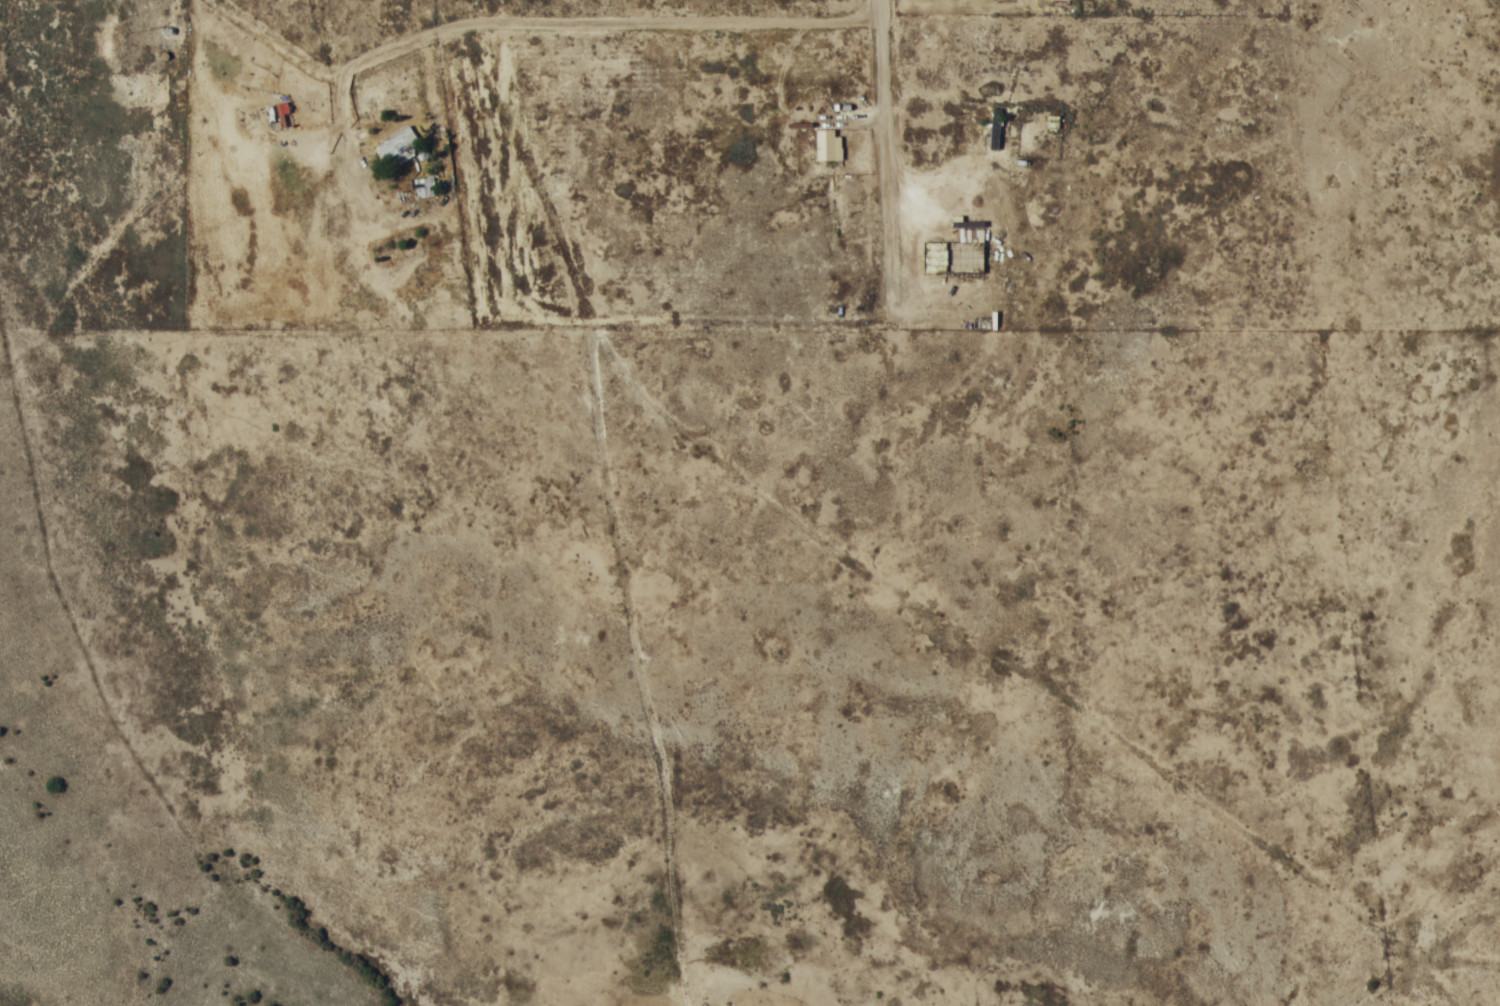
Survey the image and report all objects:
road: (588, 24)
building: (1052, 119)
building: (994, 127)
building: (827, 144)
building: (397, 145)
road: (429, 148)
building: (955, 251)
road: (936, 303)
road: (869, 504)
road: (1131, 583)
road: (1480, 988)

